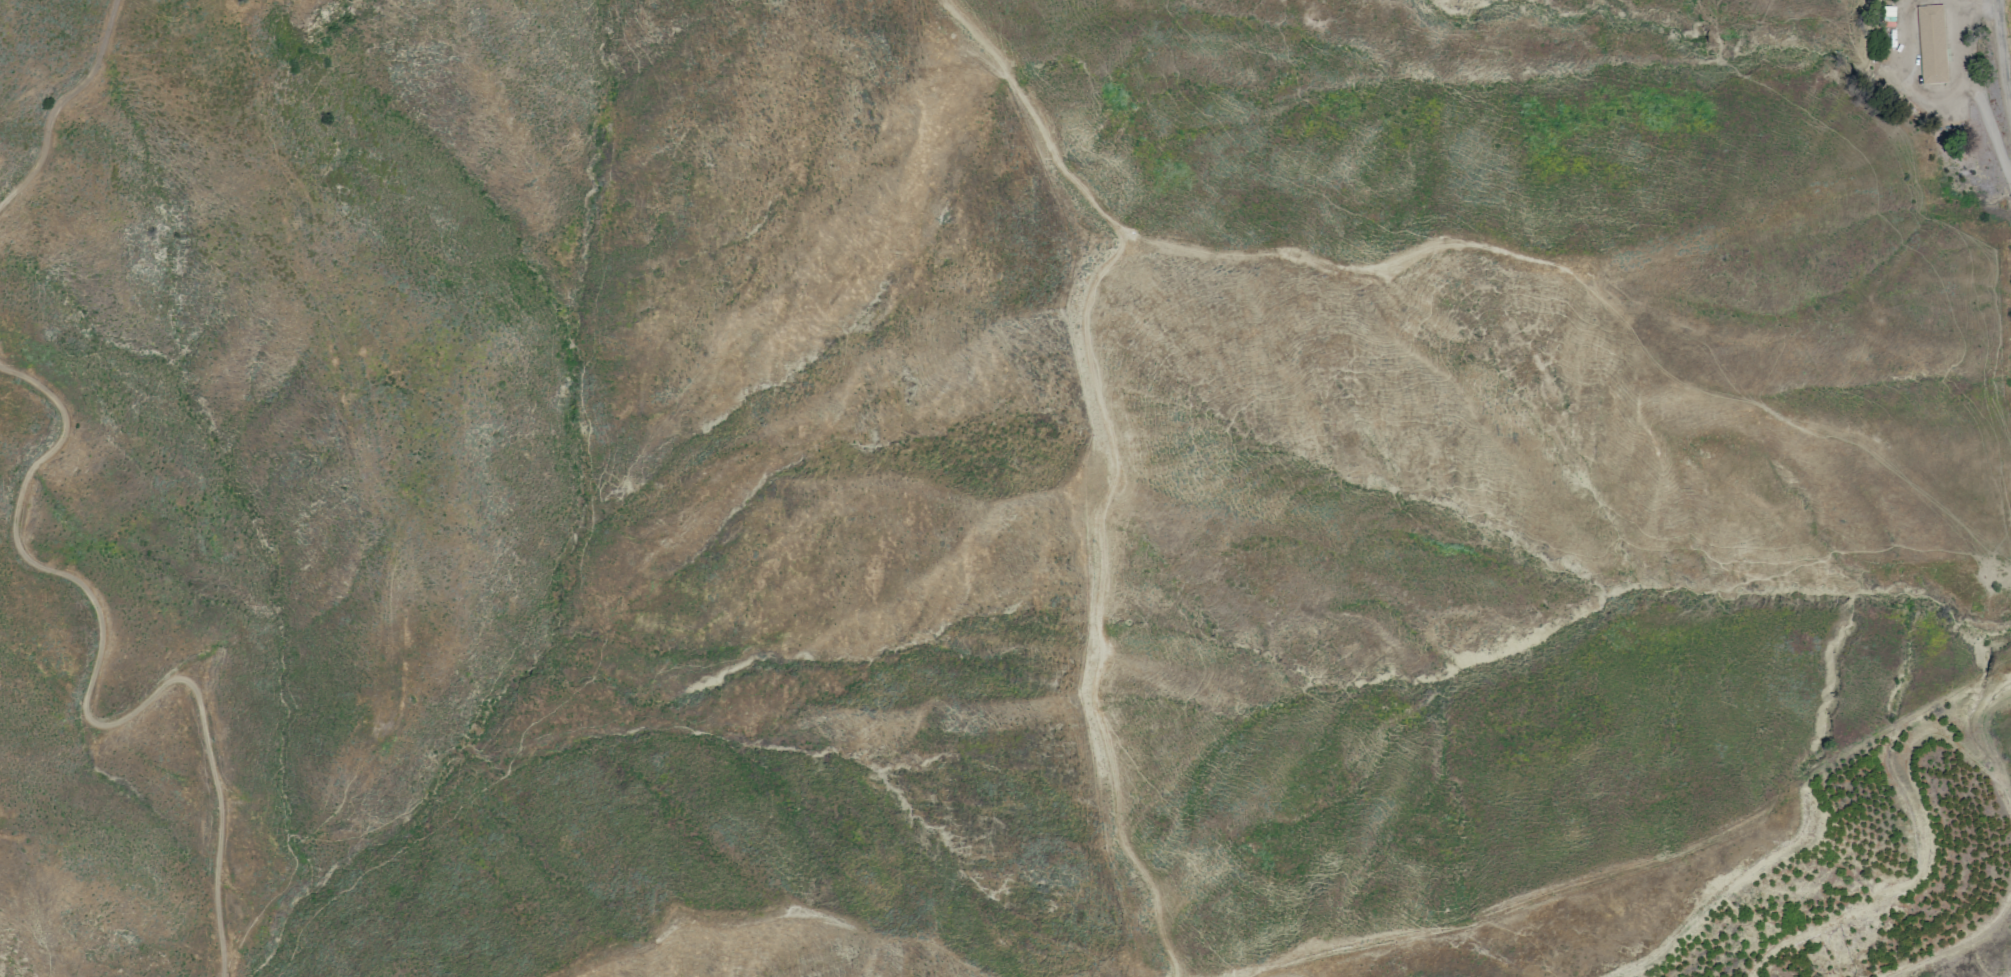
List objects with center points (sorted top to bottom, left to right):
road: (1973, 10)
building: (1931, 44)
road: (2005, 46)
road: (1972, 55)
road: (1934, 98)
road: (65, 104)
road: (1126, 461)
road: (84, 705)

